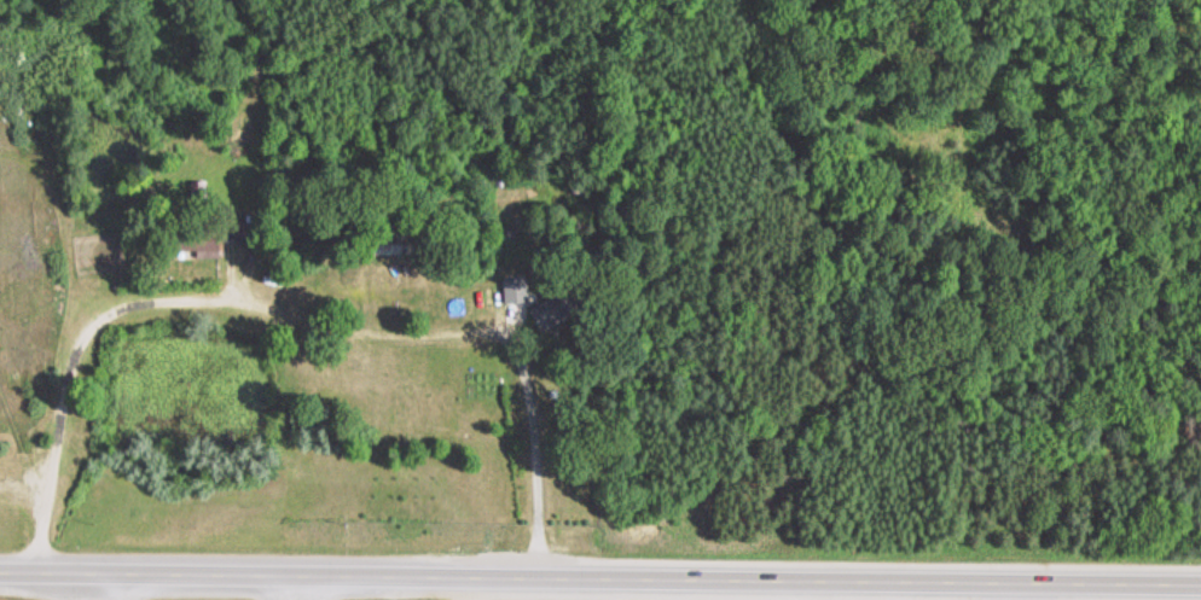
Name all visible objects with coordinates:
building: (208, 244)
building: (516, 287)
road: (295, 303)
building: (556, 309)
road: (24, 468)
road: (25, 493)
road: (600, 575)

